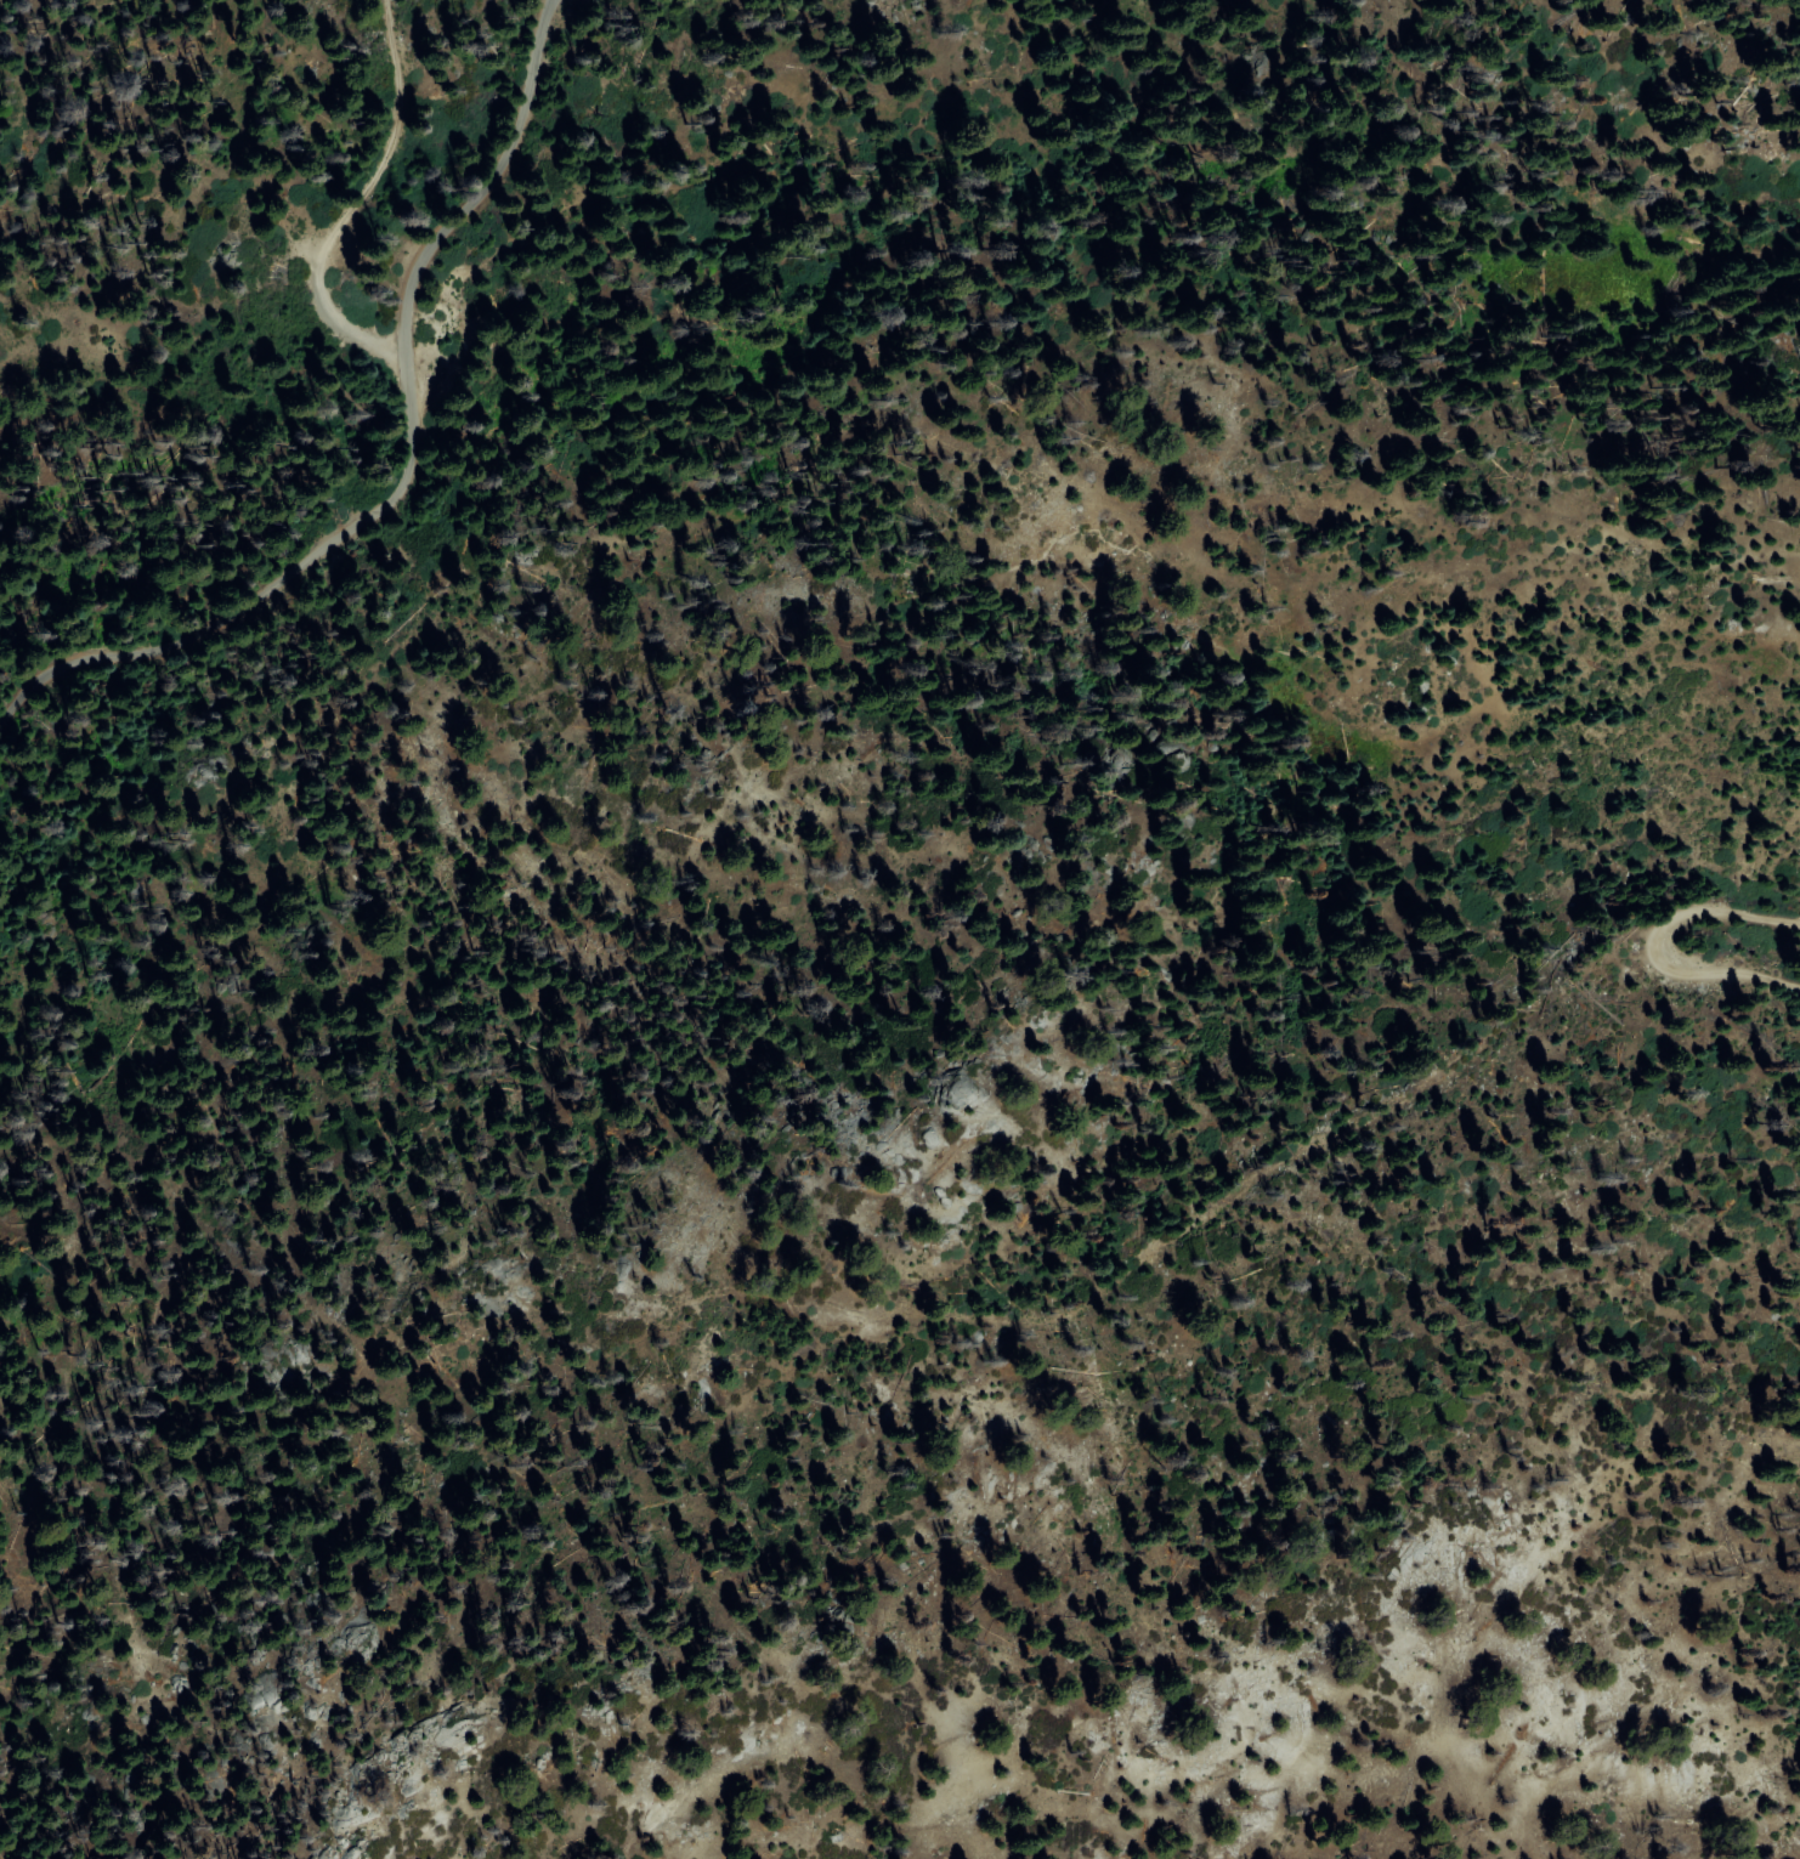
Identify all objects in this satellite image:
road: (357, 200)
road: (406, 458)
road: (1660, 950)

